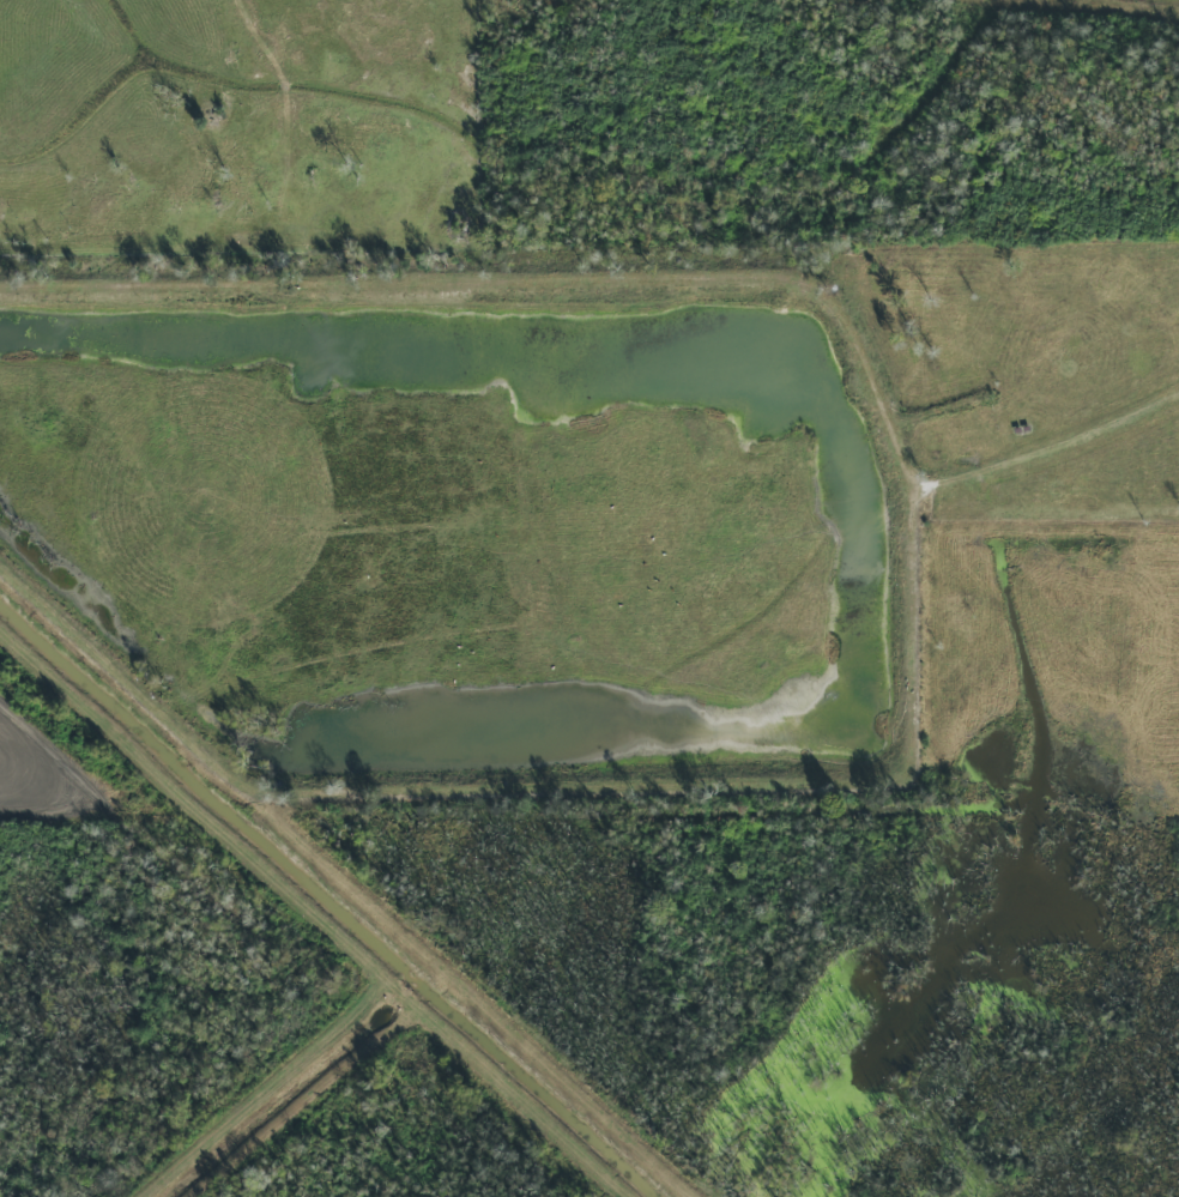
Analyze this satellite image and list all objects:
road: (347, 882)
road: (313, 913)

